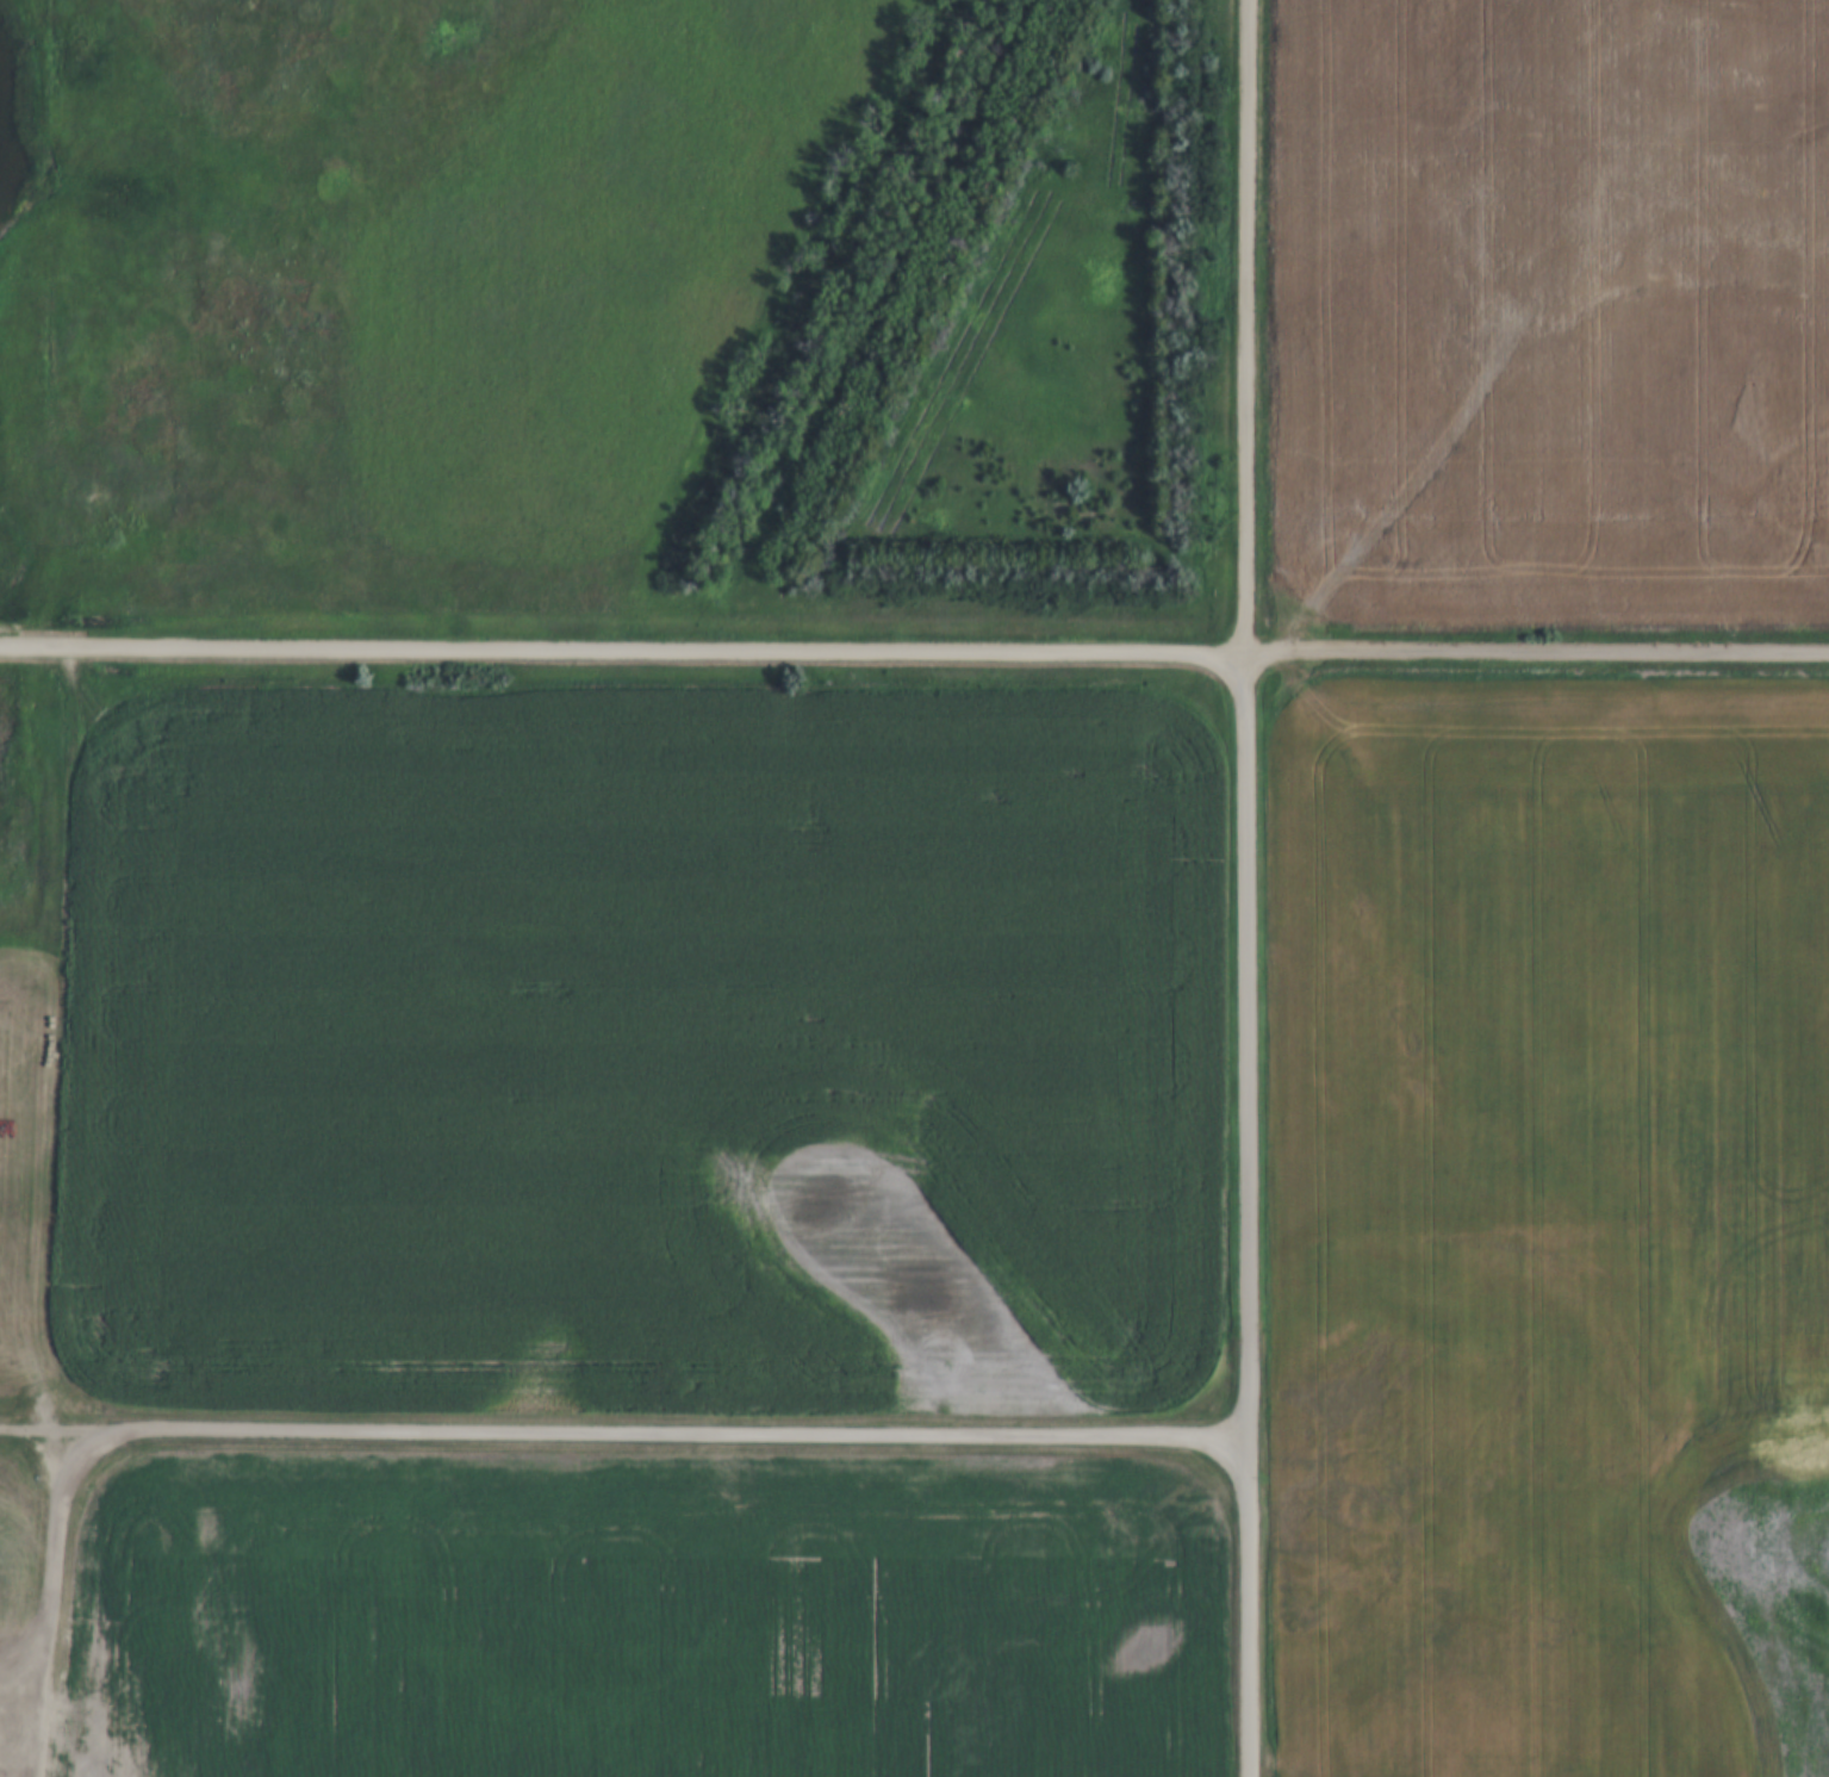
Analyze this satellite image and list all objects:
road: (1537, 650)
road: (623, 651)
road: (1246, 888)
road: (624, 1435)
road: (44, 1592)
road: (19, 1658)

